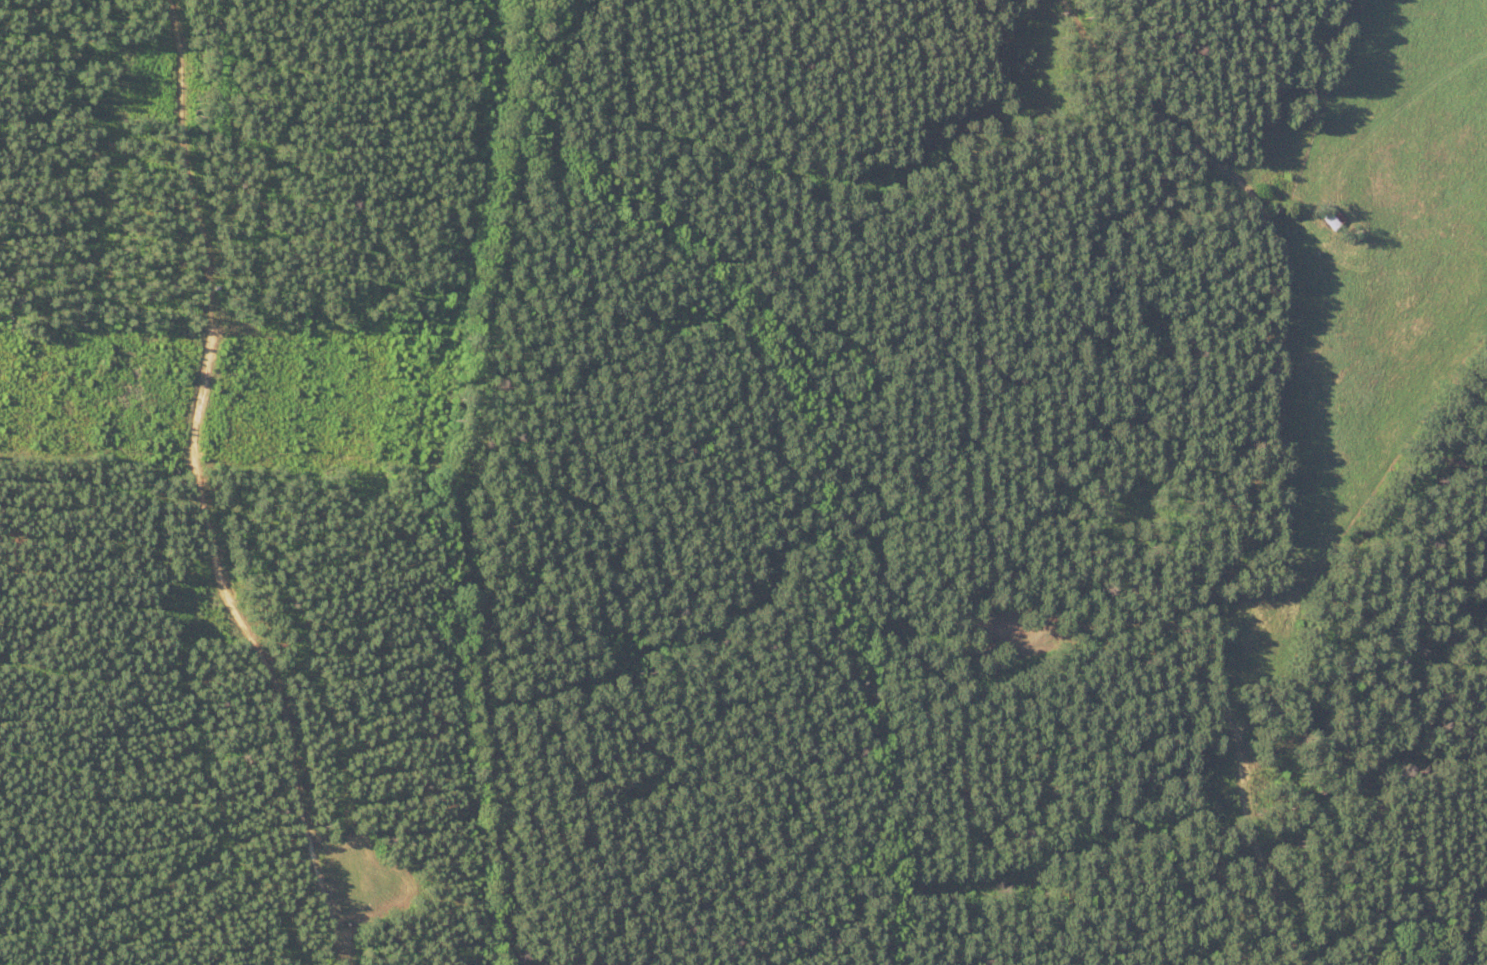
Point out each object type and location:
building: (1328, 217)

